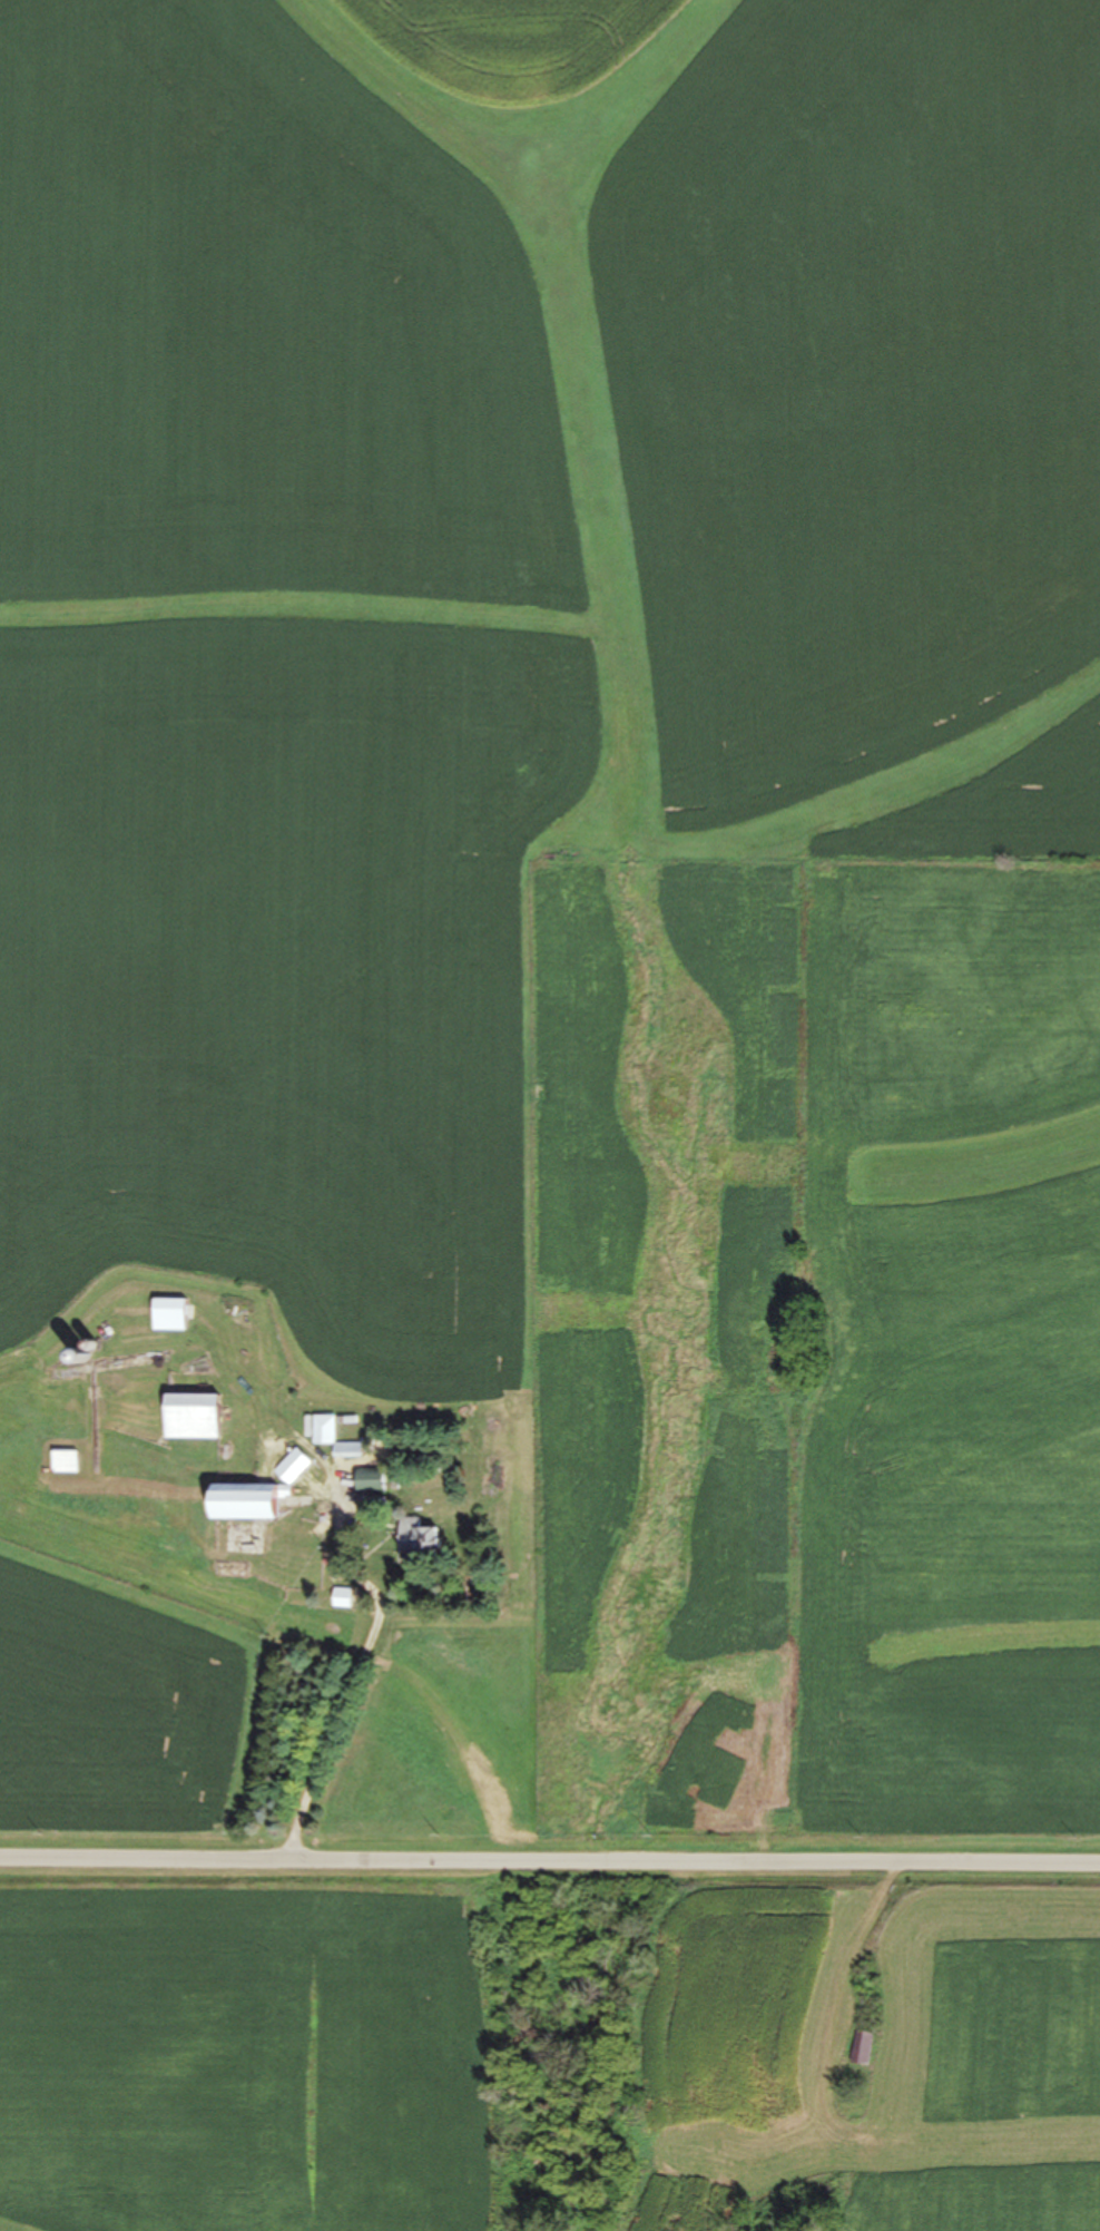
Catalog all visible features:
building: (171, 1310)
building: (193, 1418)
building: (325, 1431)
building: (69, 1462)
building: (373, 1483)
building: (246, 1504)
building: (421, 1540)
road: (550, 1868)
building: (863, 2047)

